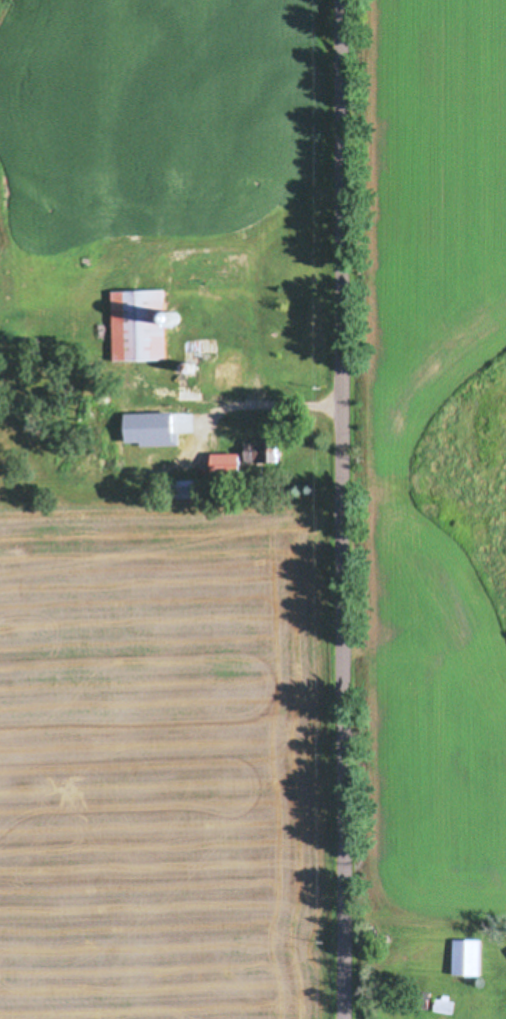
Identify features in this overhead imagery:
crop: (165, 111)
building: (208, 271)
building: (145, 324)
building: (149, 443)
building: (250, 457)
crop: (425, 458)
building: (188, 489)
road: (340, 509)
crop: (167, 757)
building: (466, 957)

